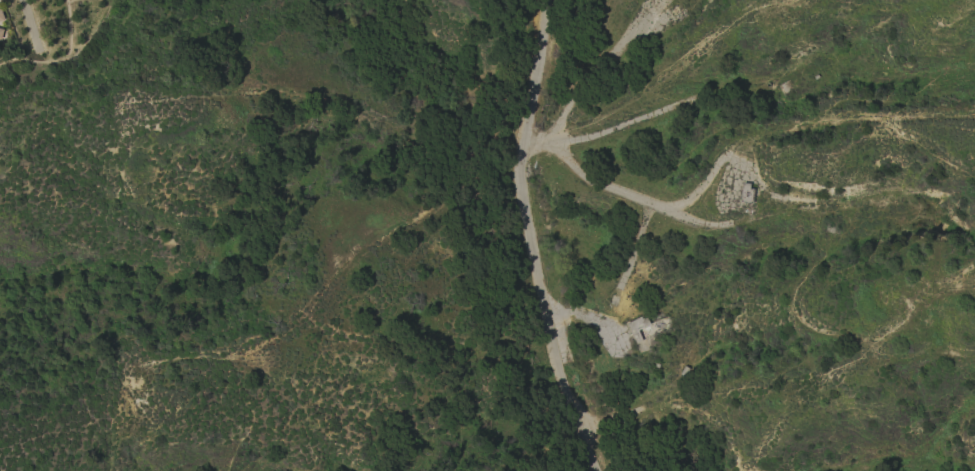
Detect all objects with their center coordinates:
building: (1, 15)
building: (1, 33)
road: (530, 238)

